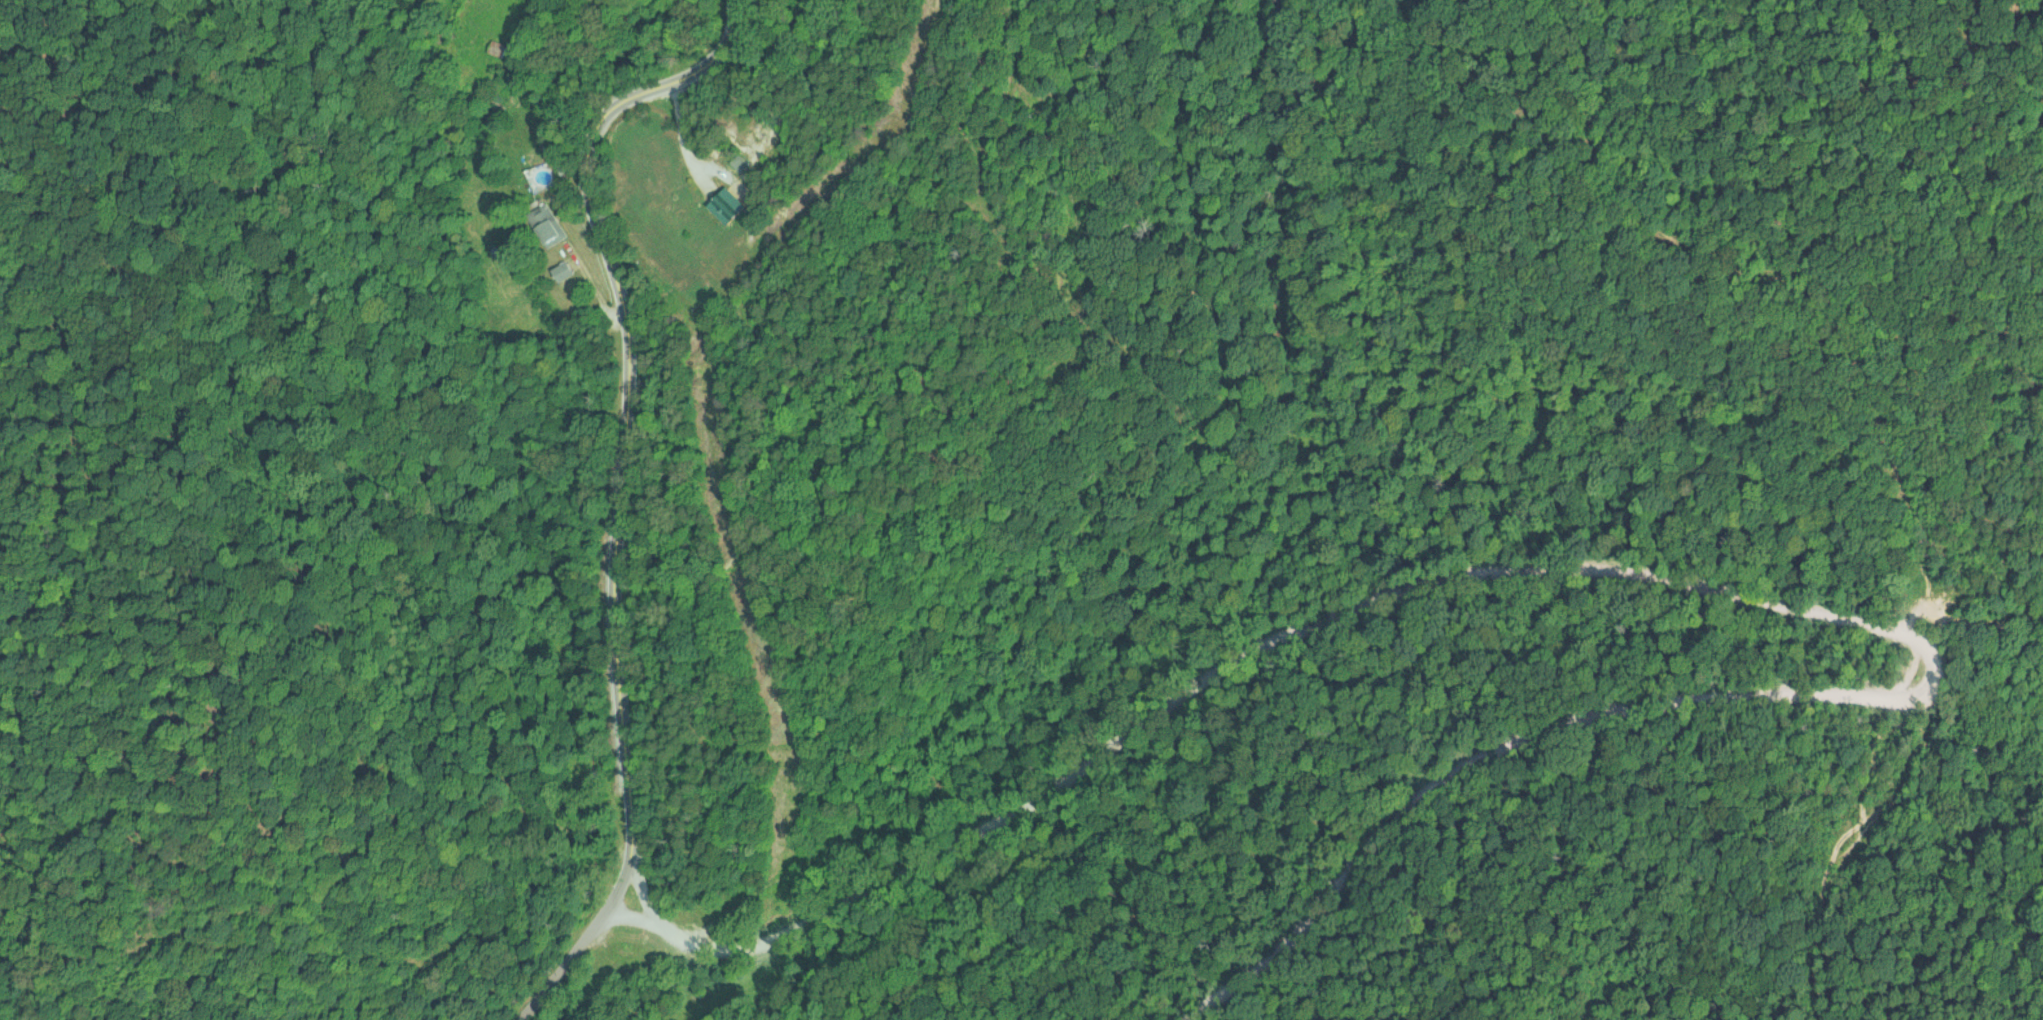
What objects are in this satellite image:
building: (498, 49)
road: (680, 127)
building: (728, 206)
building: (546, 225)
building: (563, 271)
road: (624, 421)
road: (1981, 619)
road: (1174, 696)
road: (1530, 735)

